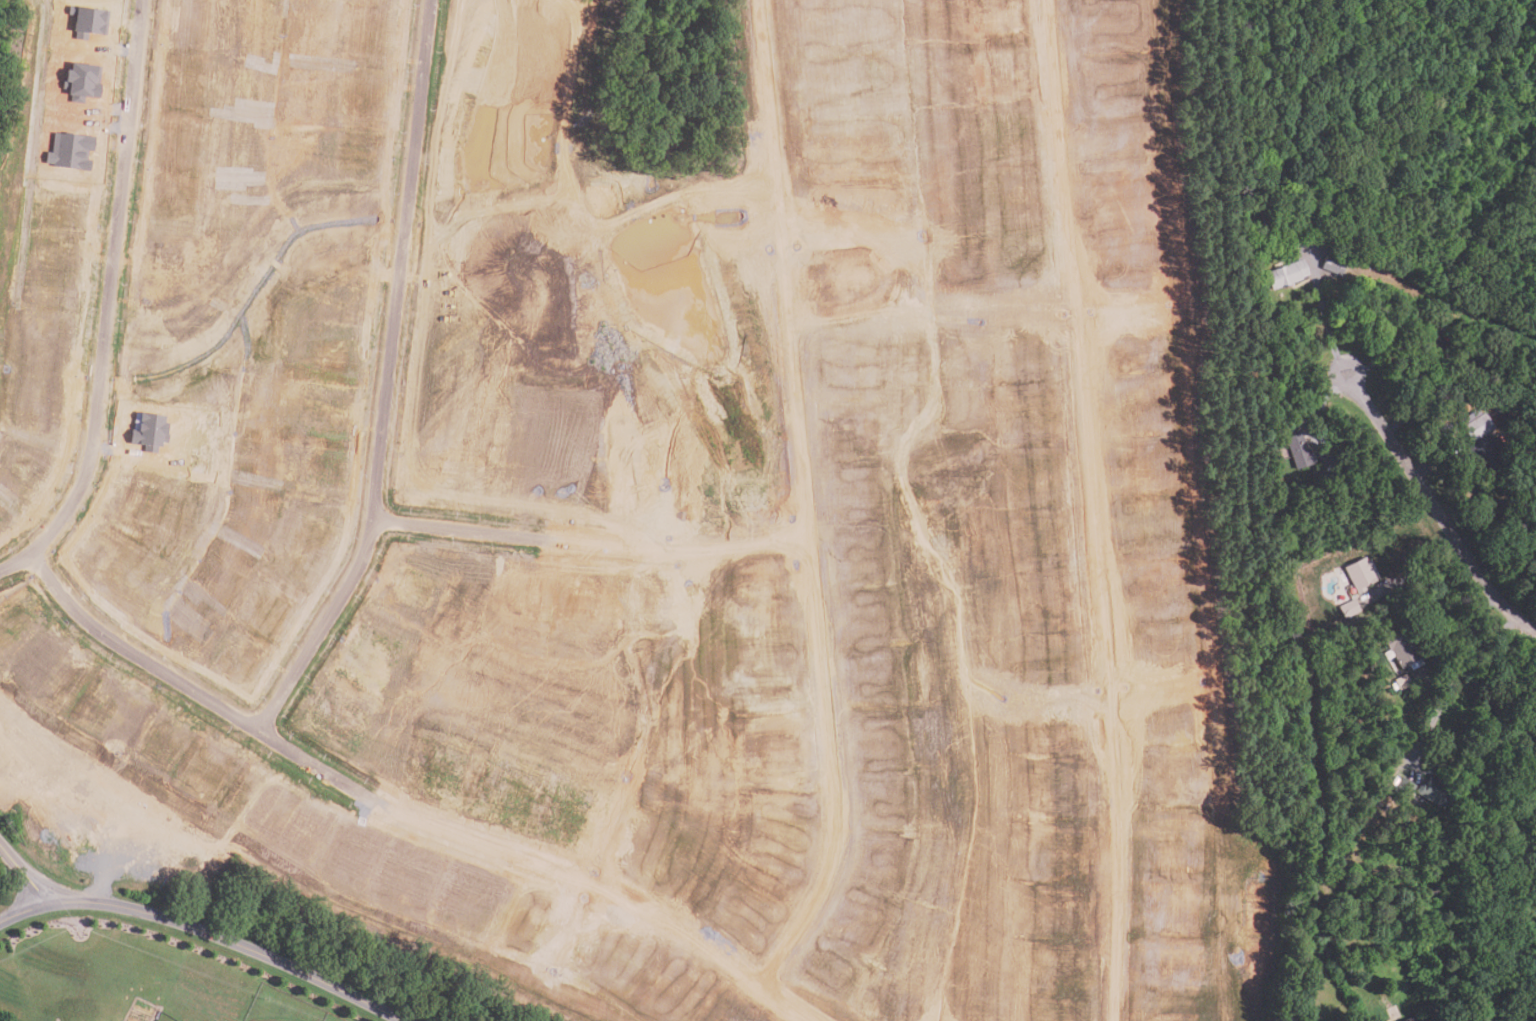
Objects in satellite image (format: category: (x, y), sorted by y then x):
building: (485, 5)
building: (192, 15)
building: (92, 22)
building: (367, 35)
building: (474, 51)
building: (186, 75)
building: (86, 83)
building: (362, 98)
building: (182, 142)
building: (74, 153)
building: (355, 163)
building: (171, 203)
building: (72, 212)
building: (1263, 224)
building: (1292, 242)
building: (1334, 252)
building: (1335, 265)
building: (1289, 273)
building: (63, 277)
road: (118, 288)
road: (1331, 324)
building: (339, 337)
building: (58, 341)
building: (1439, 347)
road: (1417, 365)
building: (1473, 379)
road: (399, 382)
building: (330, 406)
building: (1497, 409)
building: (46, 410)
road: (1314, 417)
building: (1479, 427)
building: (153, 432)
building: (1301, 450)
building: (1486, 453)
road: (1441, 459)
building: (332, 470)
building: (29, 478)
road: (817, 503)
road: (1436, 507)
road: (1096, 510)
building: (311, 535)
road: (603, 547)
building: (108, 553)
road: (19, 566)
road: (1423, 566)
building: (1361, 573)
building: (408, 581)
building: (271, 604)
building: (1350, 608)
road: (1462, 622)
building: (379, 644)
building: (1403, 649)
building: (240, 660)
building: (1370, 668)
building: (60, 669)
road: (1456, 674)
building: (1404, 683)
building: (333, 706)
building: (109, 709)
building: (162, 739)
building: (206, 757)
building: (1406, 787)
building: (255, 788)
building: (1436, 793)
road: (413, 801)
building: (306, 821)
road: (24, 874)
road: (204, 936)
building: (1414, 1019)

